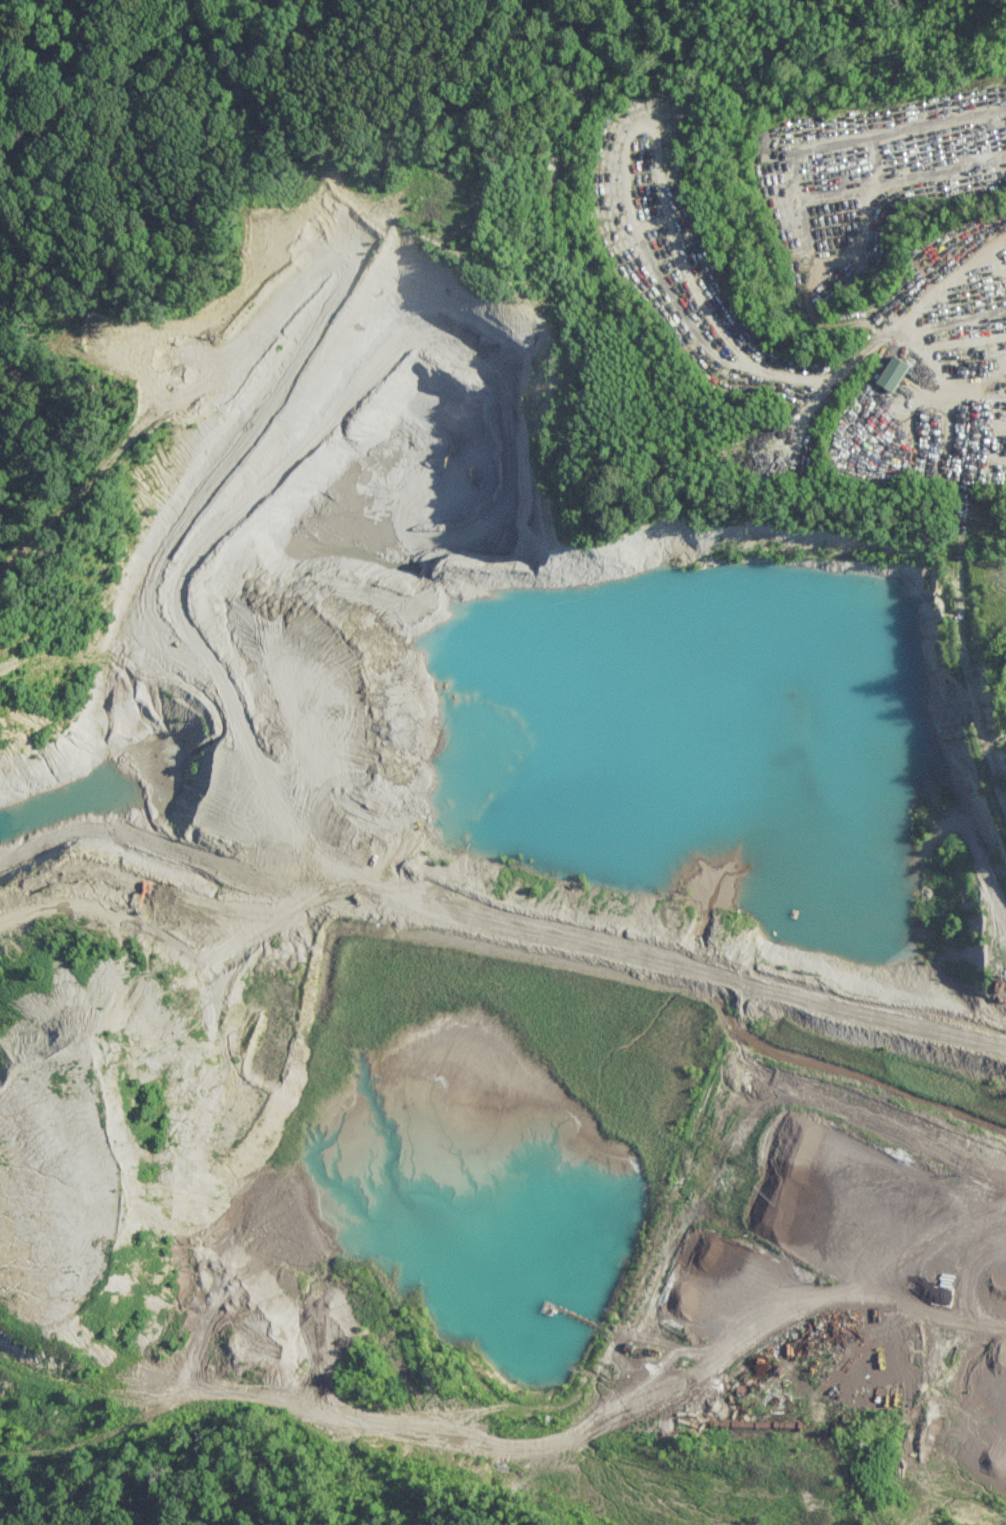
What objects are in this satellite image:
road: (629, 168)
road: (800, 170)
building: (887, 373)
road: (842, 374)
road: (983, 456)
road: (962, 501)
road: (232, 1100)

